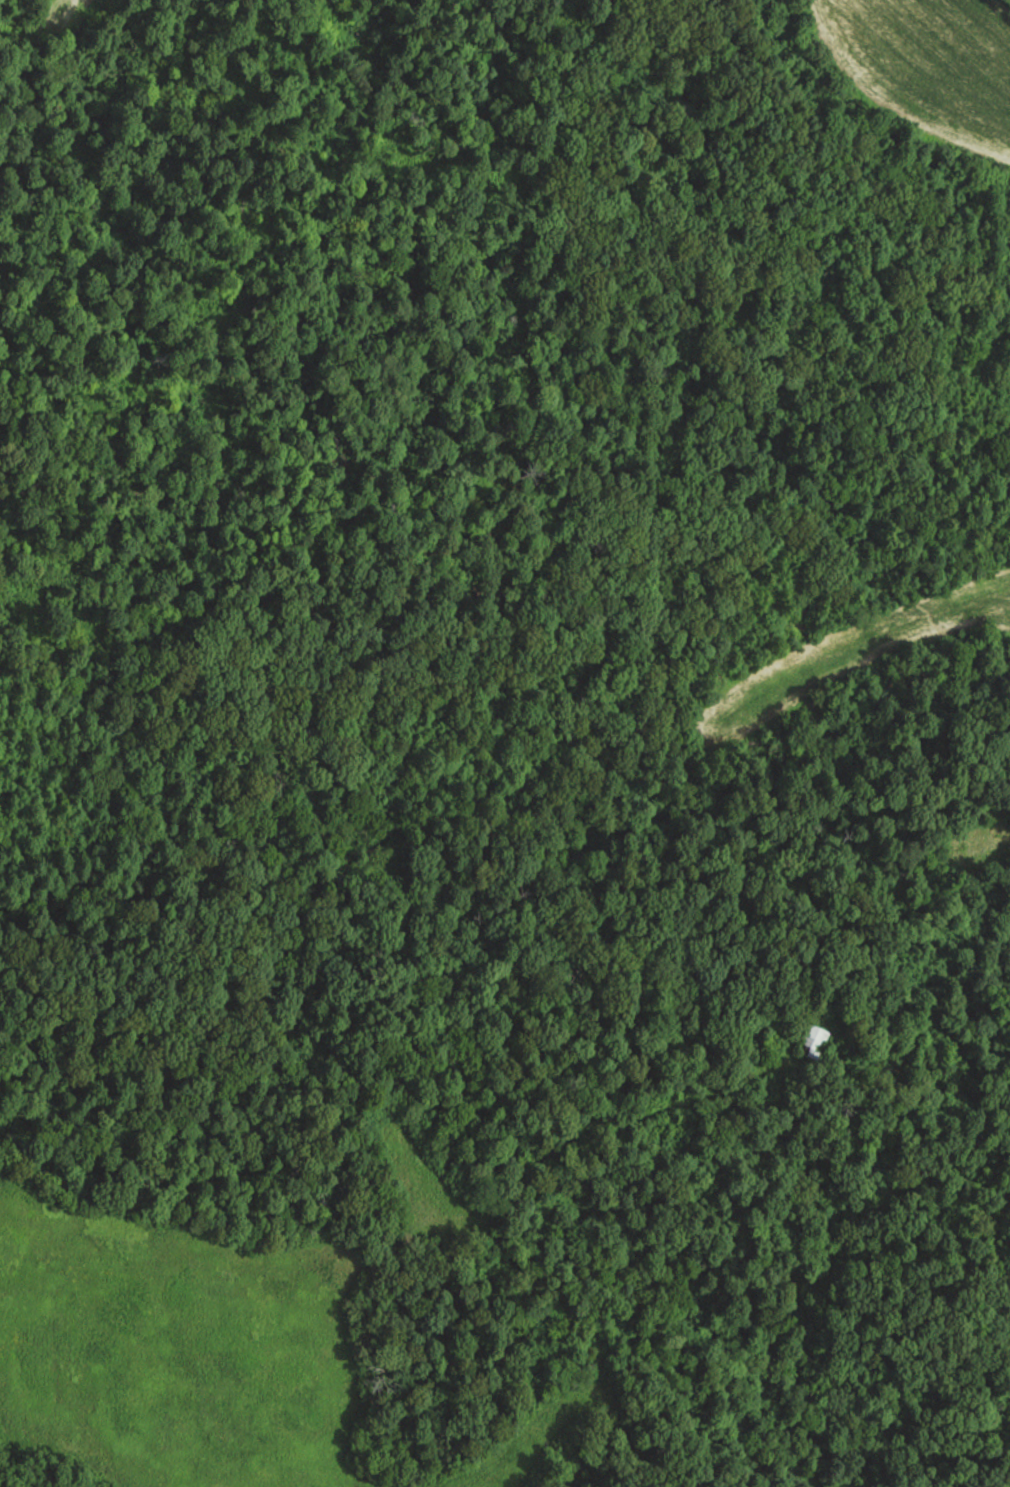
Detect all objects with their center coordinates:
building: (808, 1041)
road: (786, 1043)

